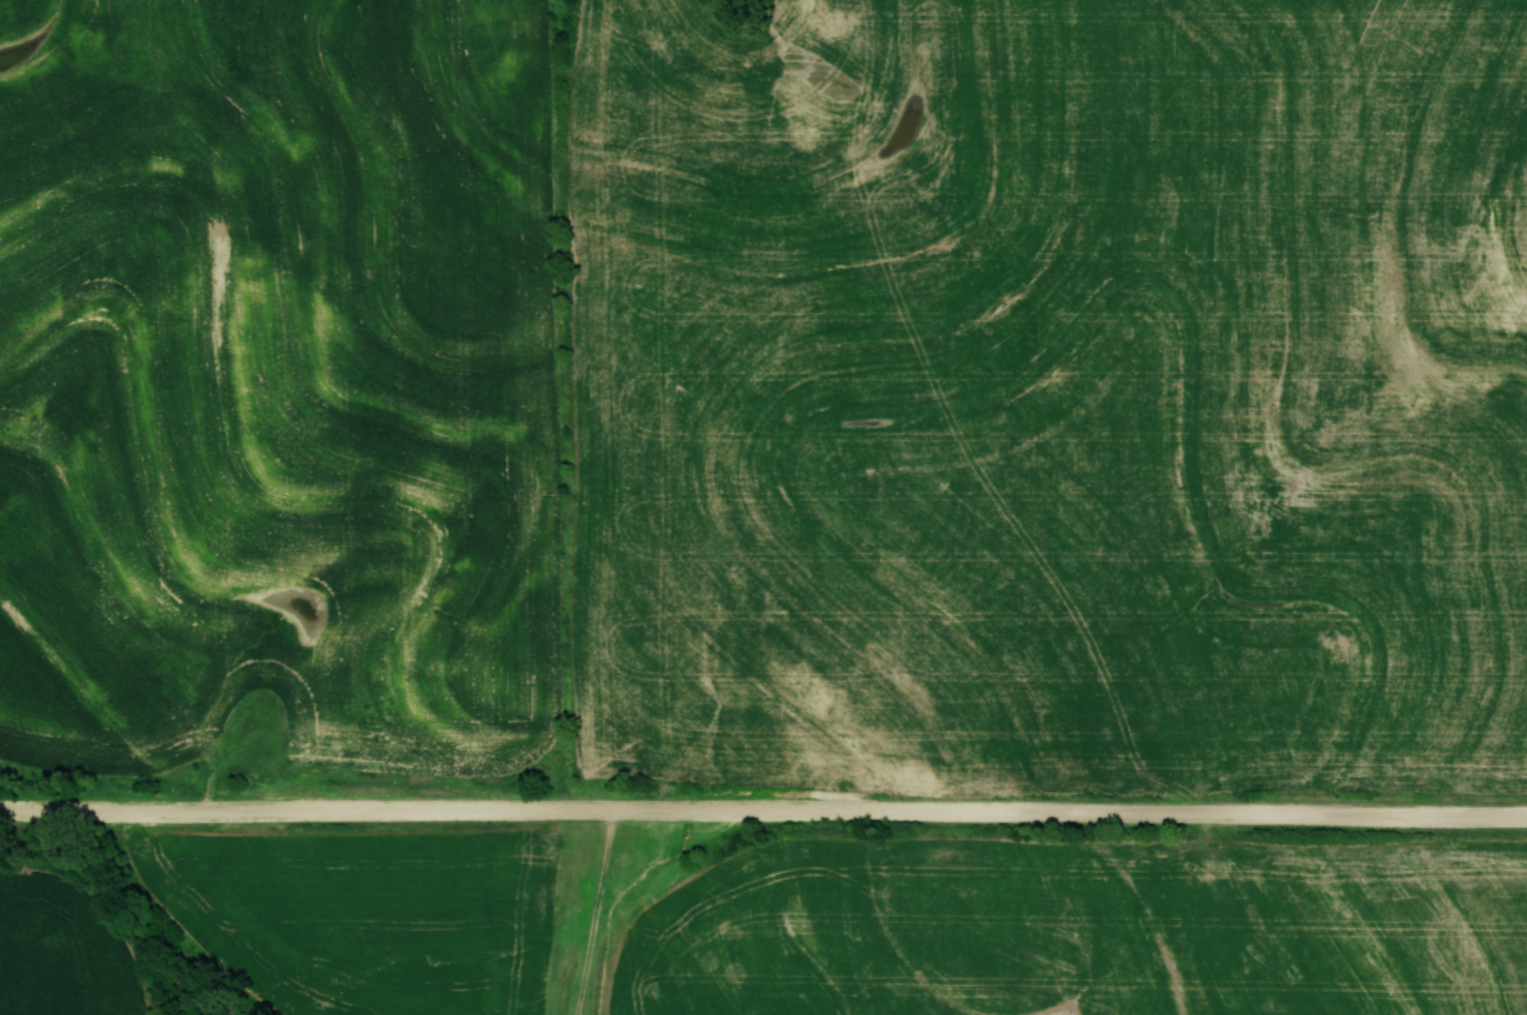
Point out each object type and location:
road: (763, 813)

